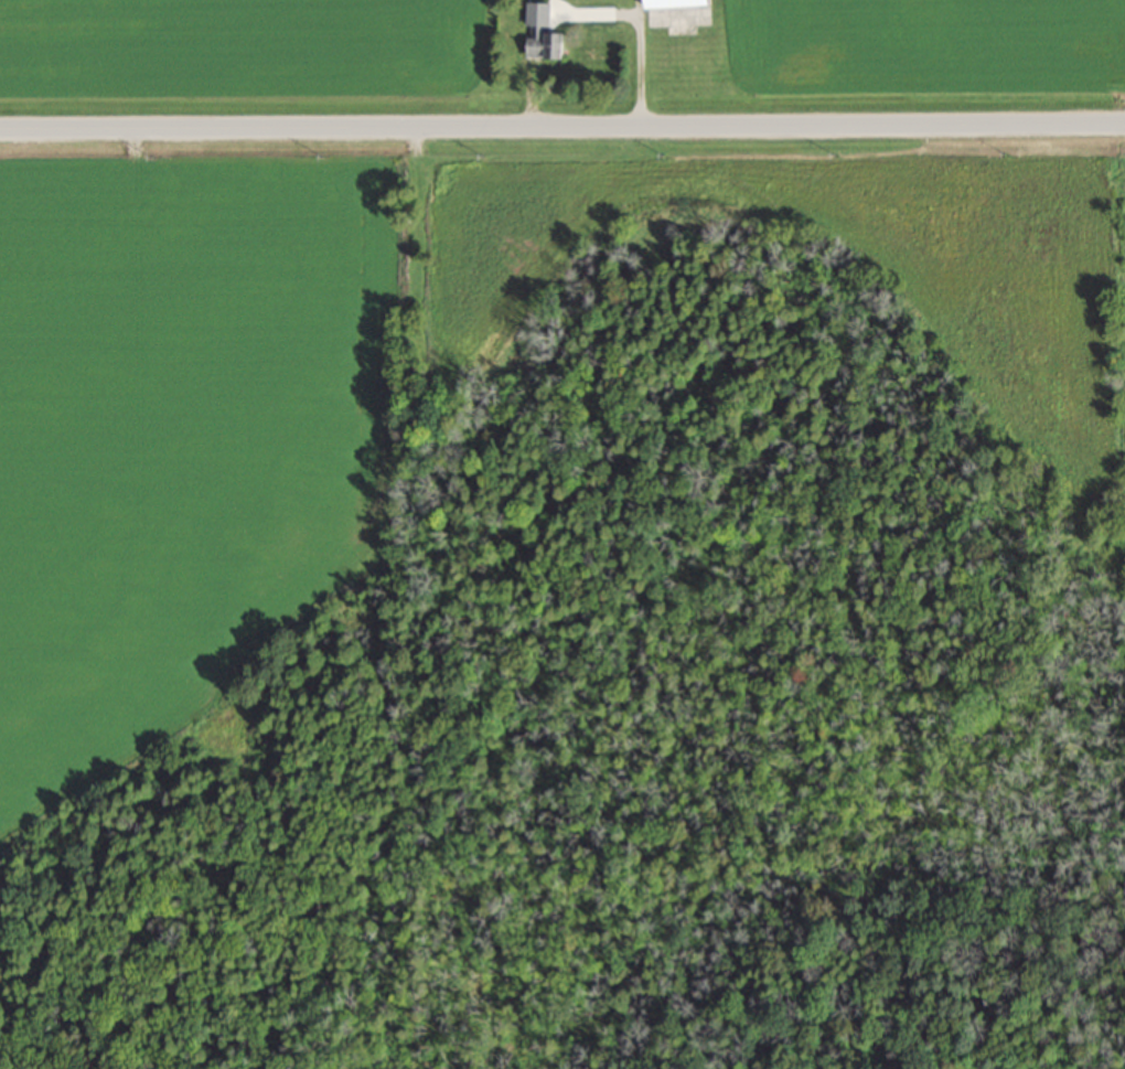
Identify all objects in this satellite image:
building: (677, 14)
building: (538, 34)
road: (562, 128)

